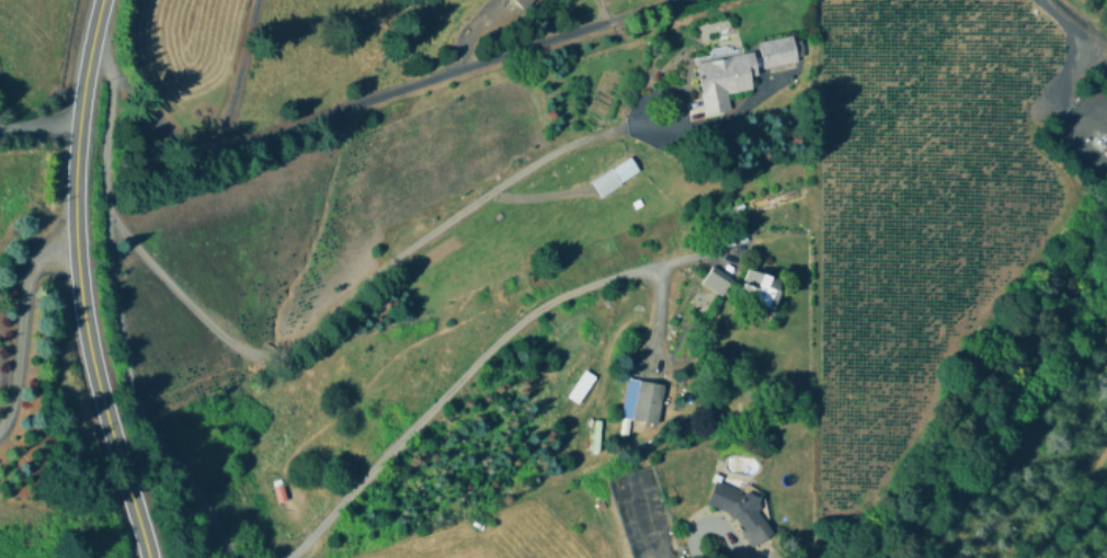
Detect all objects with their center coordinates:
building: (522, 3)
road: (1075, 48)
building: (778, 50)
building: (724, 79)
road: (378, 95)
road: (44, 124)
building: (623, 170)
crop: (621, 275)
road: (373, 280)
road: (78, 282)
building: (716, 282)
building: (760, 287)
road: (19, 316)
road: (115, 316)
road: (464, 371)
building: (647, 401)
building: (740, 510)
road: (727, 536)

